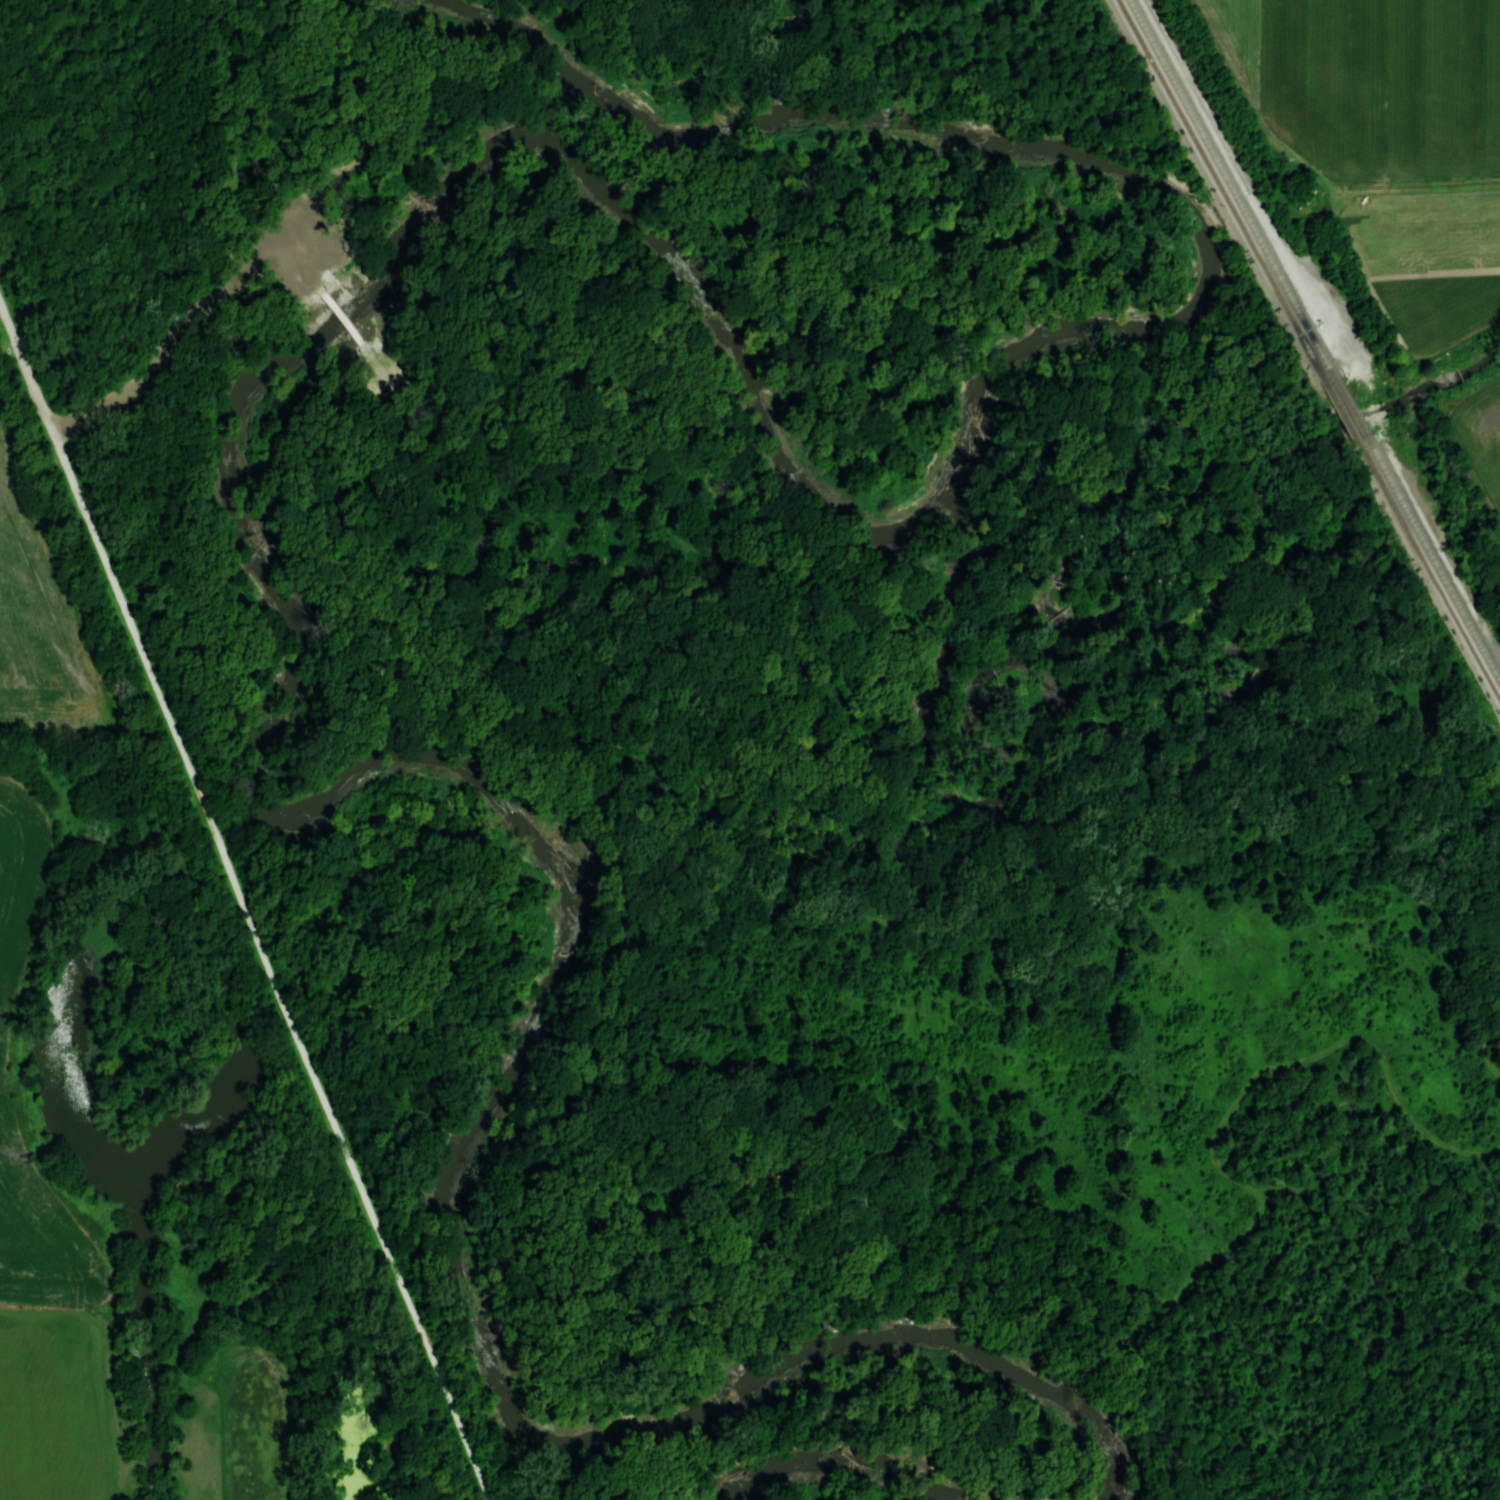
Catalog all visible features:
railway: (1233, 185)
railway: (1219, 187)
road: (294, 246)
park: (1347, 260)
road: (310, 264)
road: (340, 310)
river: (304, 348)
road: (380, 360)
railway: (1351, 406)
railway: (1340, 407)
railway: (1435, 558)
railway: (1429, 570)
park: (83, 651)
road: (244, 899)
road: (686, 1002)
road: (612, 1063)
road: (1496, 1145)
park: (547, 1308)
river: (844, 1457)

